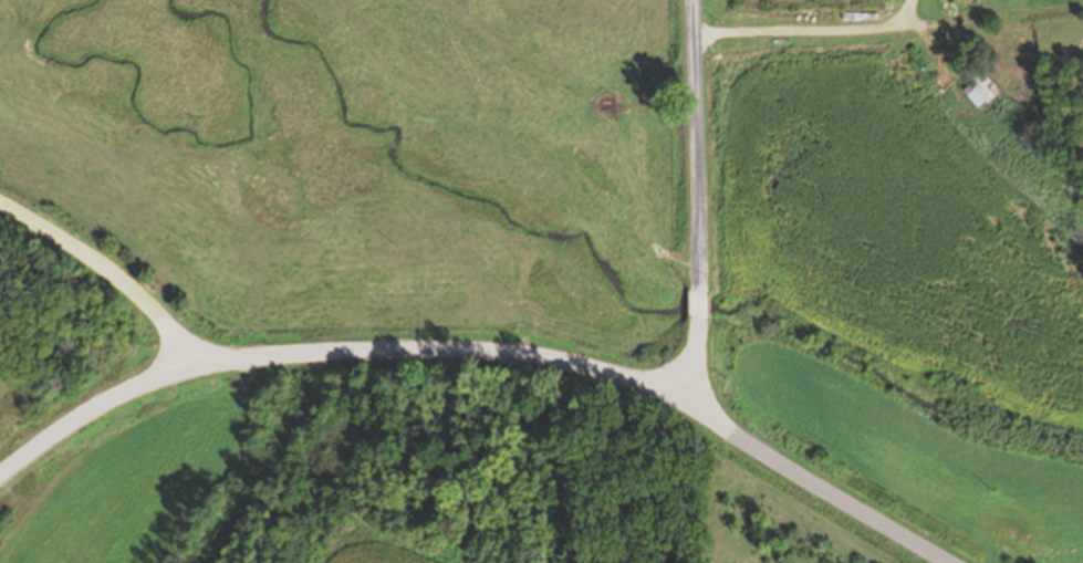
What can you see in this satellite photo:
building: (980, 86)
road: (697, 200)
road: (473, 345)
road: (93, 413)
building: (475, 496)

